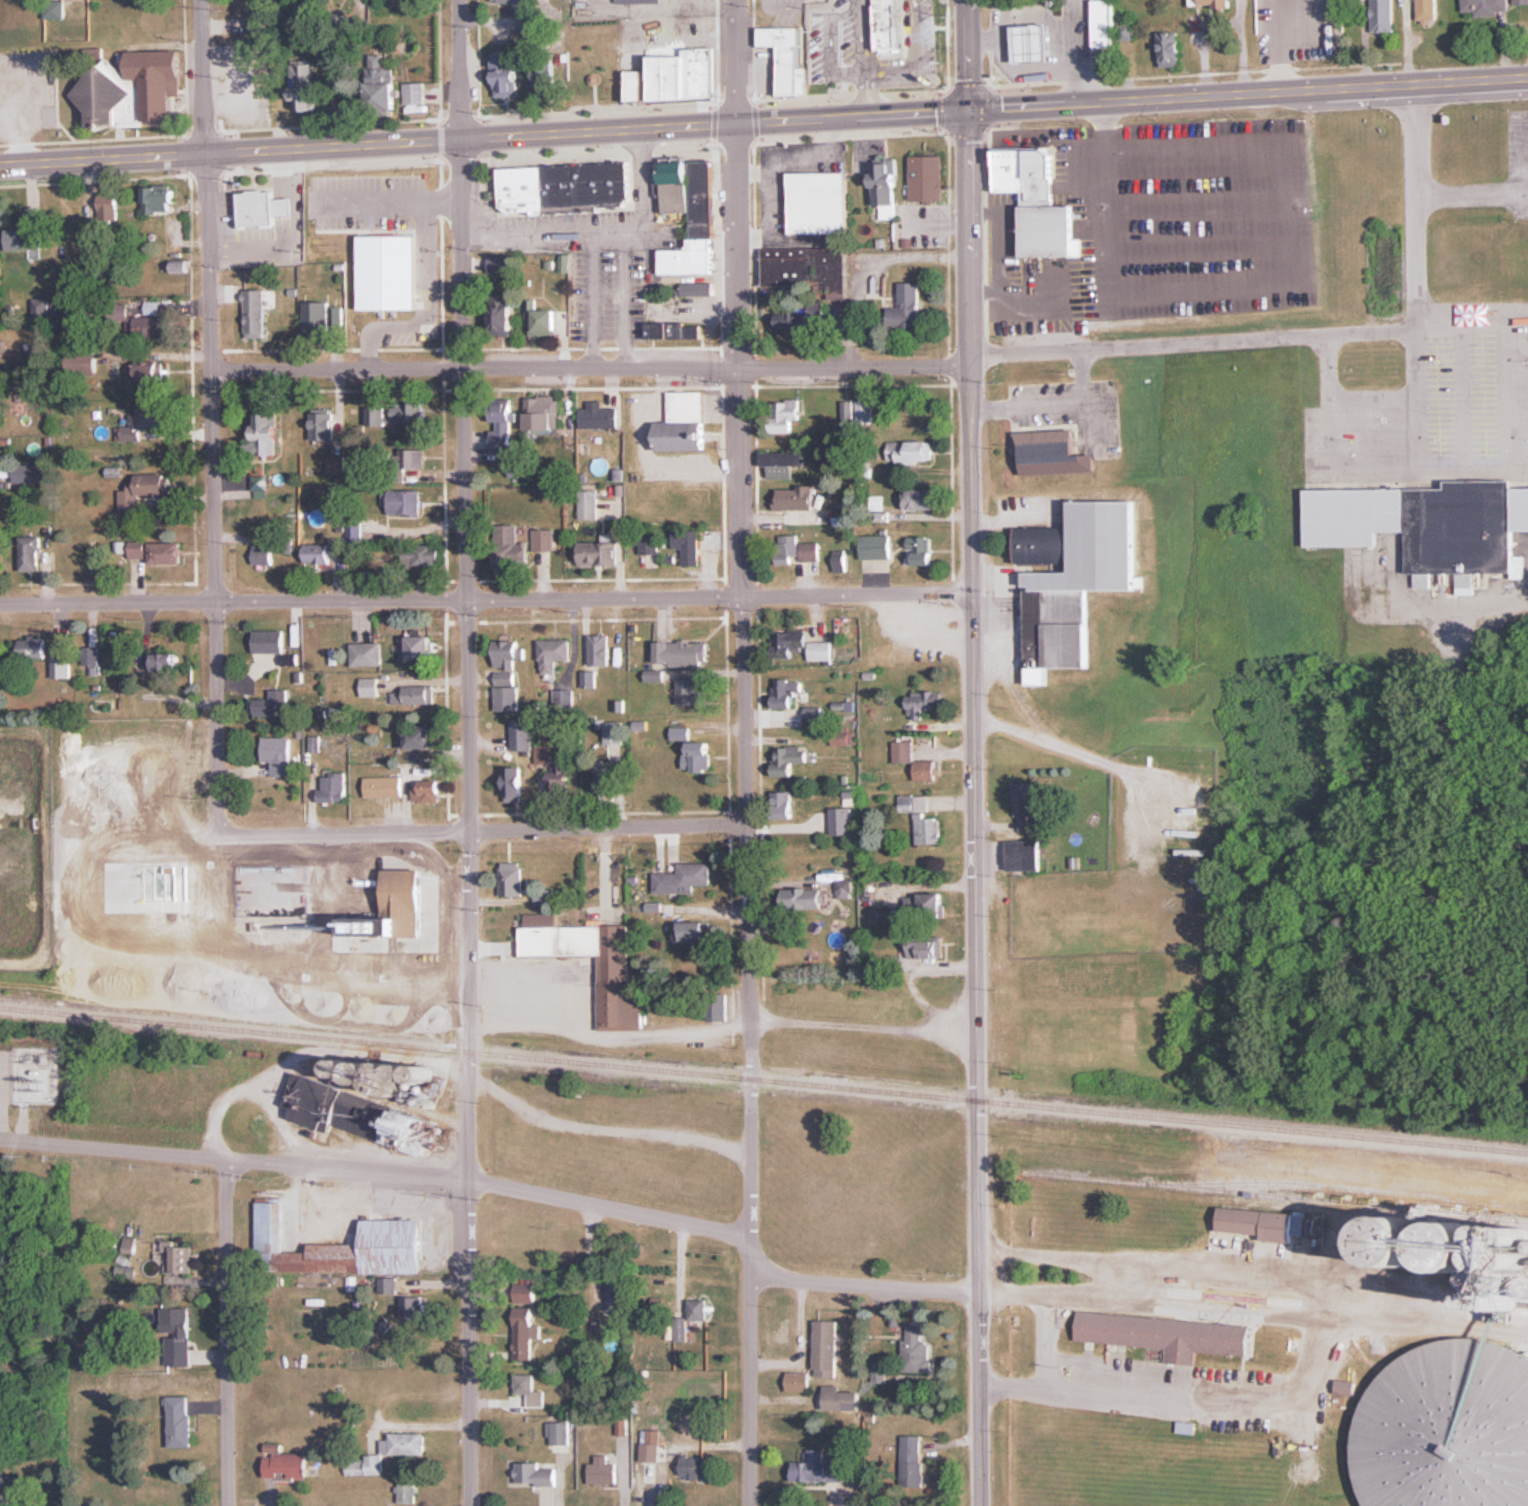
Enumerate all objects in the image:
building: (516, 2)
building: (1209, 2)
building: (1521, 2)
building: (1487, 7)
building: (55, 9)
building: (1426, 10)
building: (1383, 16)
building: (873, 19)
building: (1299, 22)
building: (1104, 23)
building: (1034, 41)
building: (1170, 48)
road: (965, 55)
building: (788, 57)
road: (736, 62)
road: (461, 70)
building: (686, 74)
building: (507, 75)
building: (599, 75)
road: (203, 77)
building: (638, 85)
building: (305, 86)
building: (382, 88)
building: (134, 89)
building: (417, 93)
road: (1247, 94)
road: (585, 133)
road: (102, 160)
road: (1155, 175)
building: (928, 178)
building: (887, 185)
building: (565, 187)
building: (159, 200)
building: (1038, 201)
building: (820, 202)
road: (1158, 204)
building: (109, 207)
building: (263, 209)
building: (704, 231)
road: (1160, 235)
building: (27, 236)
road: (1161, 263)
building: (497, 265)
building: (806, 268)
building: (699, 289)
road: (1194, 292)
building: (904, 310)
building: (119, 313)
building: (255, 313)
building: (316, 314)
building: (510, 317)
building: (800, 320)
building: (545, 323)
building: (153, 327)
building: (675, 331)
road: (1312, 332)
road: (157, 352)
building: (83, 361)
road: (591, 368)
building: (149, 373)
road: (1054, 402)
building: (848, 410)
building: (408, 411)
building: (543, 414)
building: (785, 415)
building: (377, 416)
building: (151, 417)
road: (1091, 419)
building: (600, 420)
building: (685, 423)
building: (504, 425)
building: (323, 426)
building: (263, 436)
building: (916, 452)
building: (1054, 452)
building: (414, 460)
building: (784, 463)
building: (516, 471)
building: (145, 490)
building: (796, 497)
building: (920, 499)
building: (405, 502)
building: (588, 504)
building: (1427, 525)
building: (355, 531)
building: (544, 540)
building: (650, 543)
building: (689, 546)
building: (516, 547)
building: (877, 548)
building: (788, 549)
building: (137, 550)
building: (922, 550)
building: (326, 551)
building: (165, 552)
building: (811, 552)
building: (30, 553)
building: (594, 553)
building: (262, 555)
building: (422, 556)
road: (216, 579)
building: (1077, 579)
road: (486, 602)
building: (273, 644)
building: (805, 646)
building: (32, 647)
building: (423, 647)
building: (600, 651)
building: (683, 653)
building: (367, 654)
building: (553, 656)
building: (165, 662)
building: (60, 667)
building: (507, 674)
building: (691, 691)
building: (789, 694)
building: (413, 695)
building: (922, 703)
building: (273, 704)
building: (614, 733)
building: (681, 733)
building: (522, 735)
building: (421, 738)
building: (277, 754)
building: (544, 754)
building: (701, 756)
building: (156, 759)
building: (790, 759)
building: (926, 770)
building: (561, 778)
building: (514, 784)
building: (383, 786)
building: (332, 788)
building: (426, 790)
building: (1025, 799)
building: (786, 805)
road: (974, 808)
road: (746, 815)
building: (921, 818)
building: (842, 821)
road: (468, 823)
road: (471, 832)
building: (23, 852)
building: (1023, 855)
building: (684, 878)
building: (511, 880)
building: (544, 897)
building: (807, 898)
building: (925, 904)
building: (392, 917)
building: (696, 932)
building: (566, 941)
building: (925, 947)
building: (619, 1001)
building: (718, 1006)
railway: (132, 1011)
railway: (88, 1017)
road: (603, 1033)
railway: (851, 1089)
building: (360, 1115)
road: (377, 1171)
railway: (1336, 1189)
railway: (1277, 1196)
building: (1264, 1222)
building: (1400, 1242)
silo: (1400, 1242)
building: (343, 1246)
building: (1457, 1248)
silo: (1457, 1248)
building: (182, 1259)
road: (865, 1286)
building: (526, 1292)
building: (616, 1295)
building: (413, 1307)
building: (699, 1309)
building: (680, 1330)
road: (227, 1333)
building: (524, 1333)
building: (1164, 1333)
building: (177, 1335)
road: (1046, 1339)
building: (828, 1348)
building: (917, 1348)
building: (799, 1381)
building: (529, 1390)
road: (1110, 1397)
building: (844, 1399)
building: (180, 1421)
building: (1448, 1427)
silo: (1448, 1427)
building: (1186, 1428)
building: (560, 1433)
building: (915, 1461)
building: (287, 1464)
building: (822, 1466)
building: (695, 1467)
building: (603, 1471)
building: (536, 1473)
building: (8, 1485)
building: (407, 1491)

